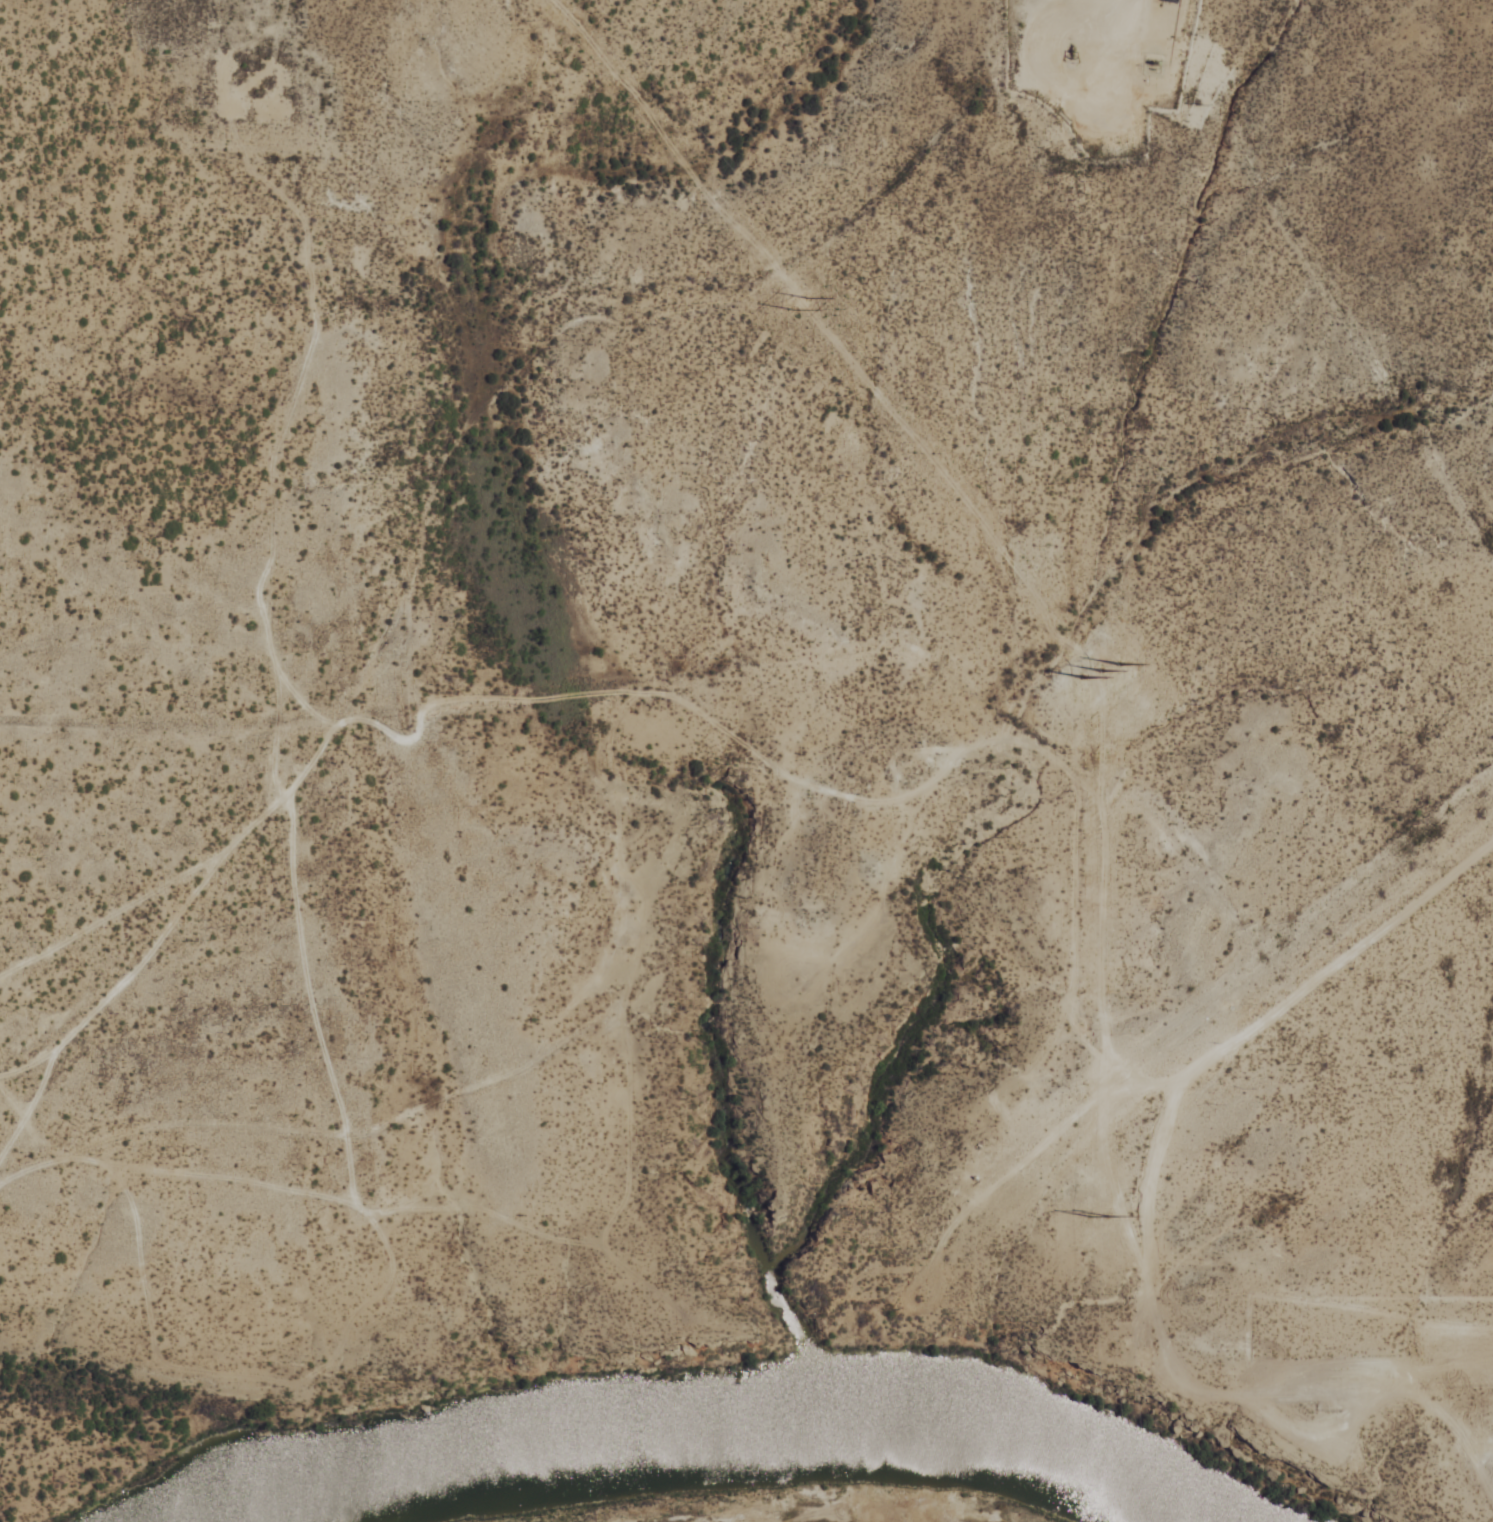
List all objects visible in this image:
road: (231, 6)
road: (1102, 27)
power tower: (797, 306)
road: (506, 567)
power tower: (1093, 673)
power tower: (1095, 1217)
road: (1143, 1230)
river: (708, 1424)

